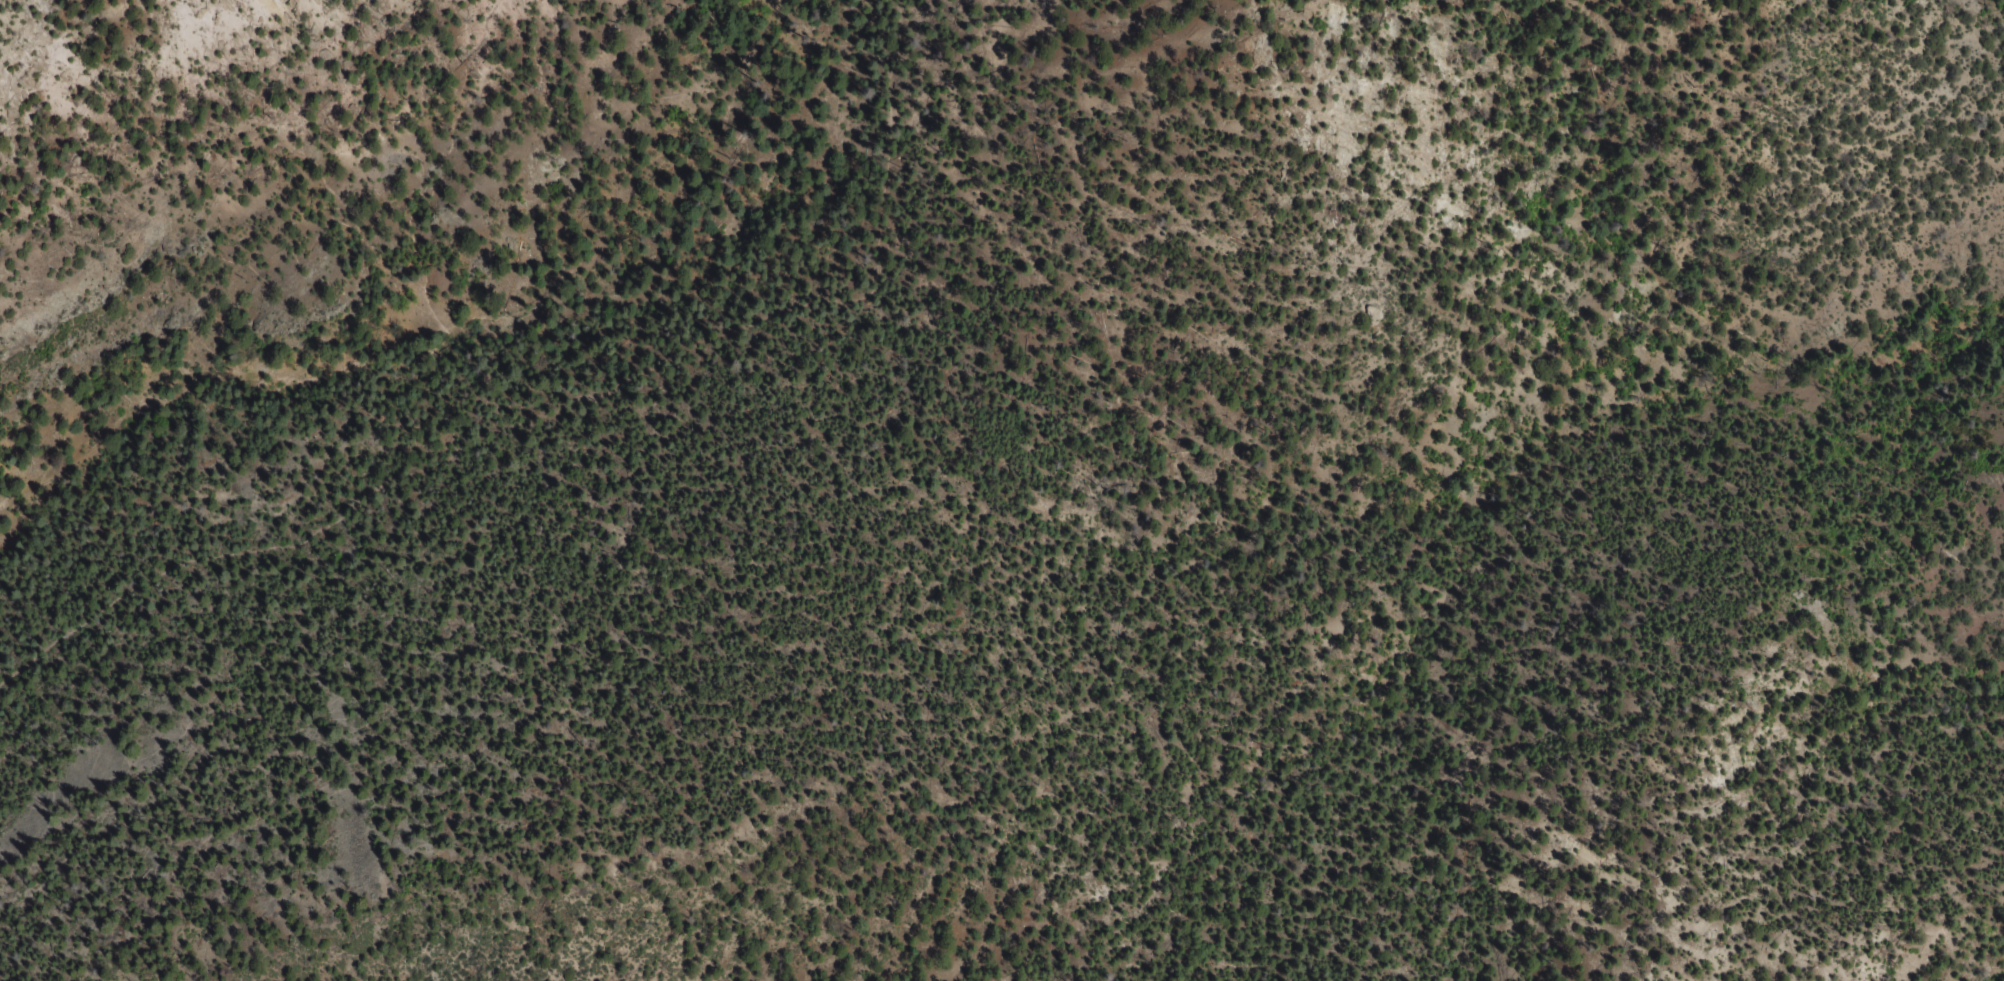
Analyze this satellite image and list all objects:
road: (550, 405)

